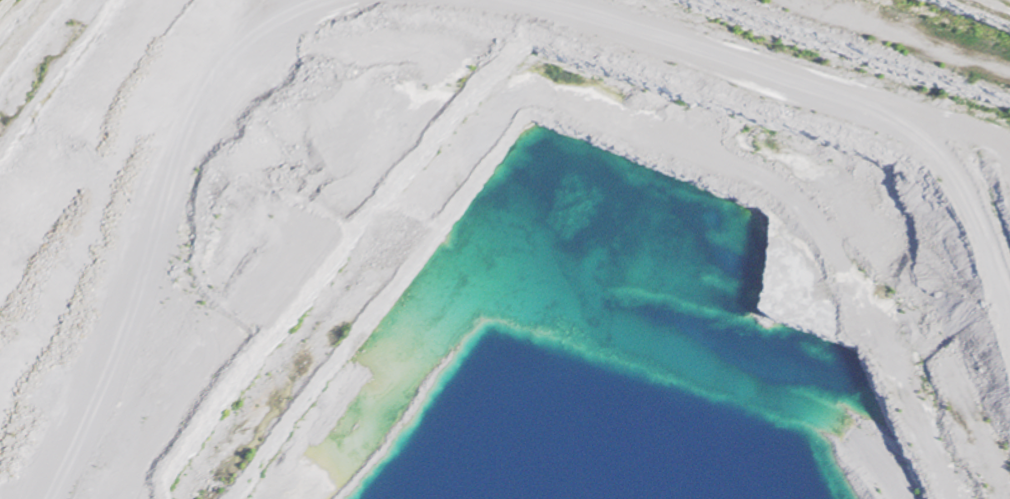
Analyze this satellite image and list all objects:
road: (481, 36)
quarry: (505, 249)

